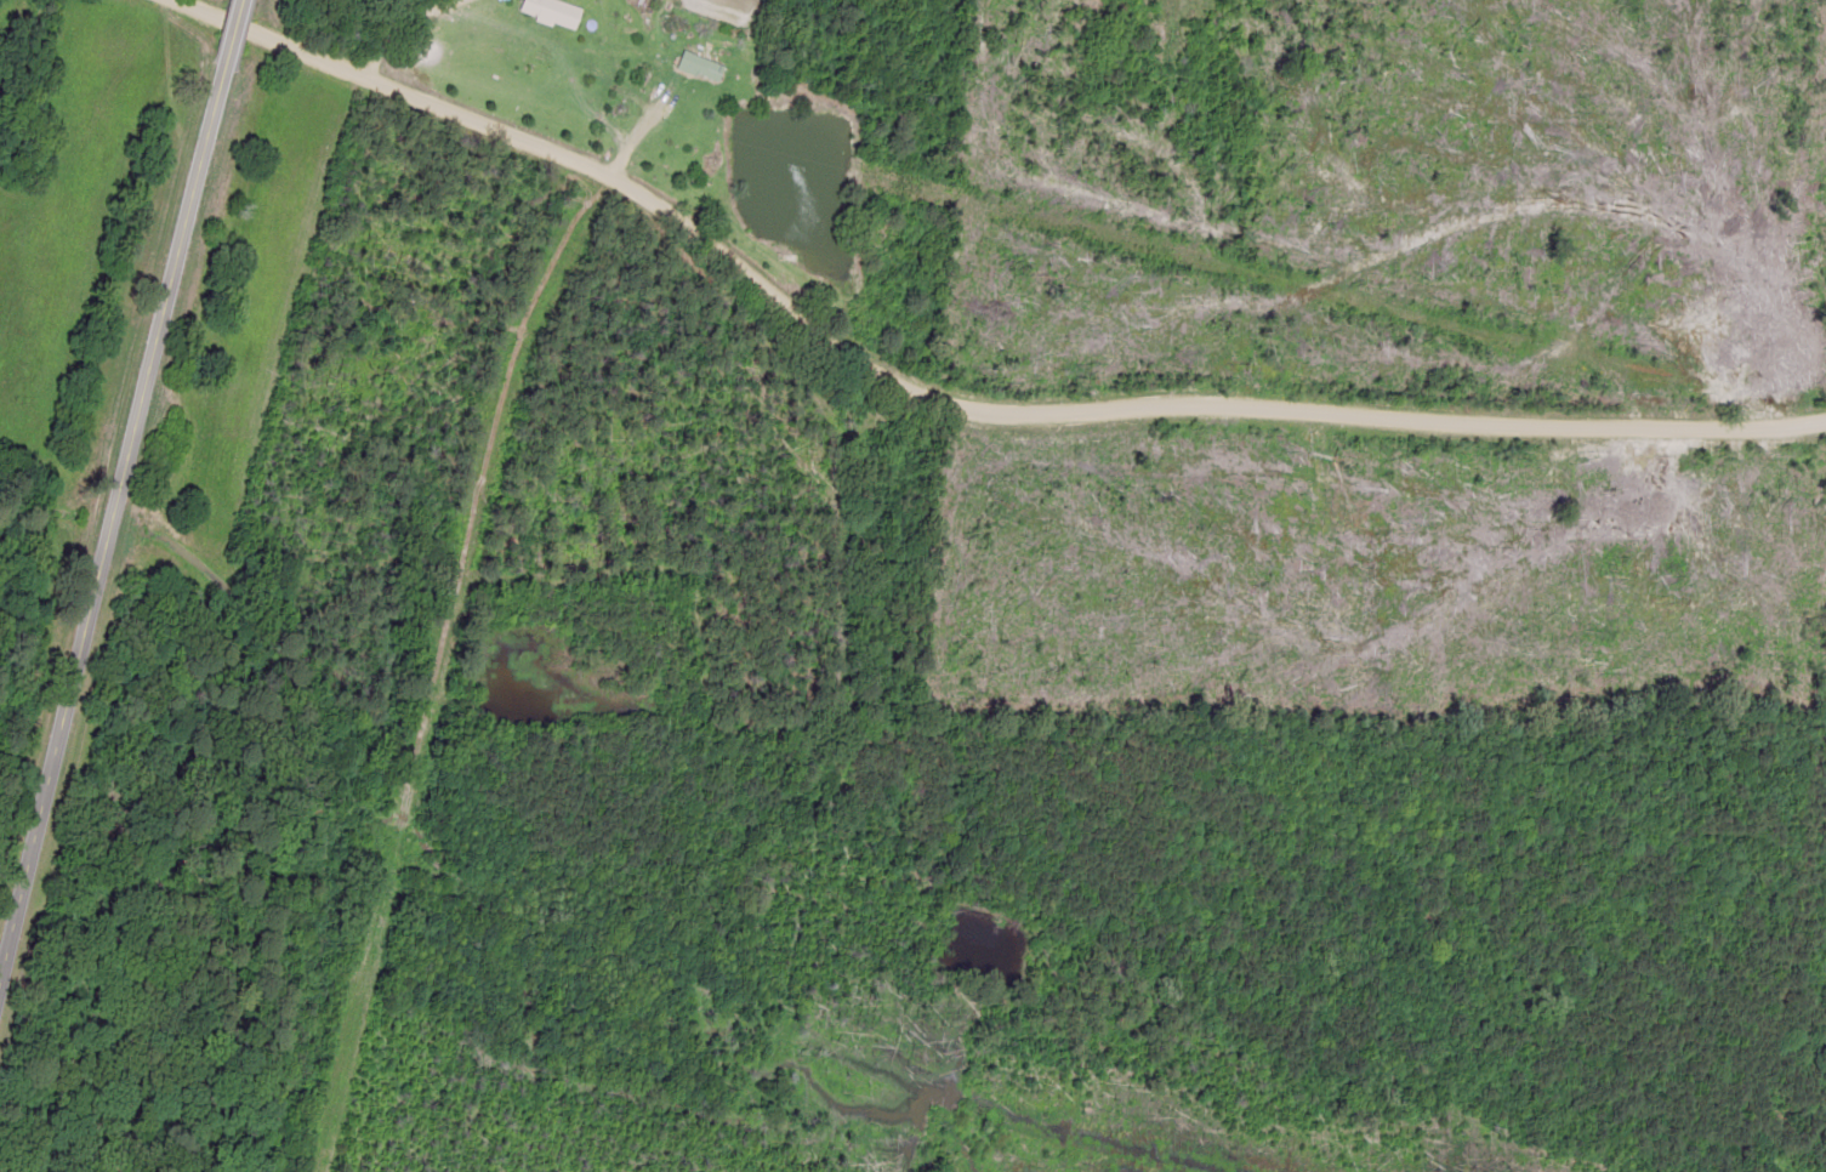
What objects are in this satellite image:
building: (547, 12)
road: (221, 33)
building: (695, 67)
road: (968, 371)
road: (106, 505)

